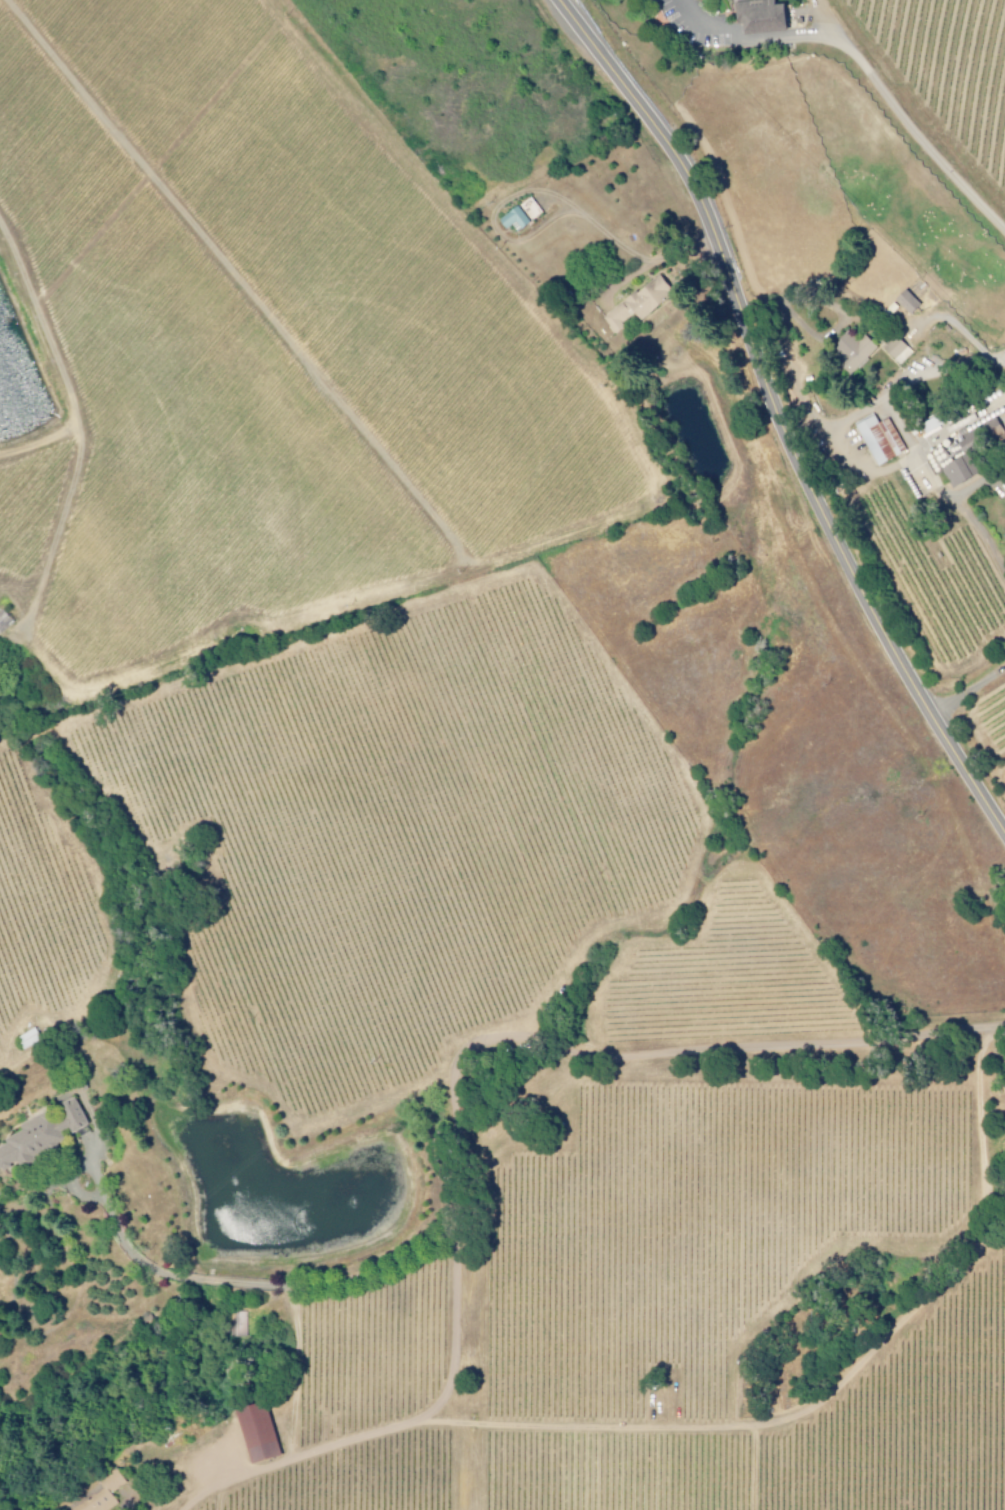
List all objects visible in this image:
building: (770, 17)
road: (699, 26)
building: (522, 215)
building: (909, 302)
building: (639, 304)
building: (855, 350)
building: (898, 350)
road: (782, 413)
building: (994, 426)
building: (880, 440)
building: (961, 471)
building: (4, 620)
road: (970, 698)
building: (28, 1038)
building: (42, 1133)
road: (699, 1214)
building: (258, 1433)
building: (98, 1495)

